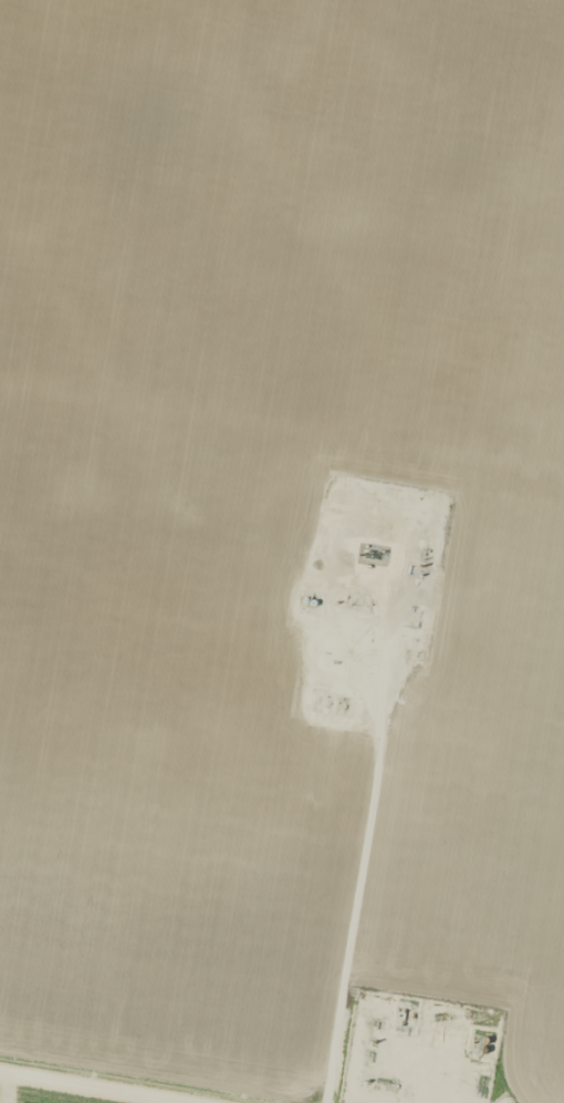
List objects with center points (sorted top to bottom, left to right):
road: (91, 1087)

